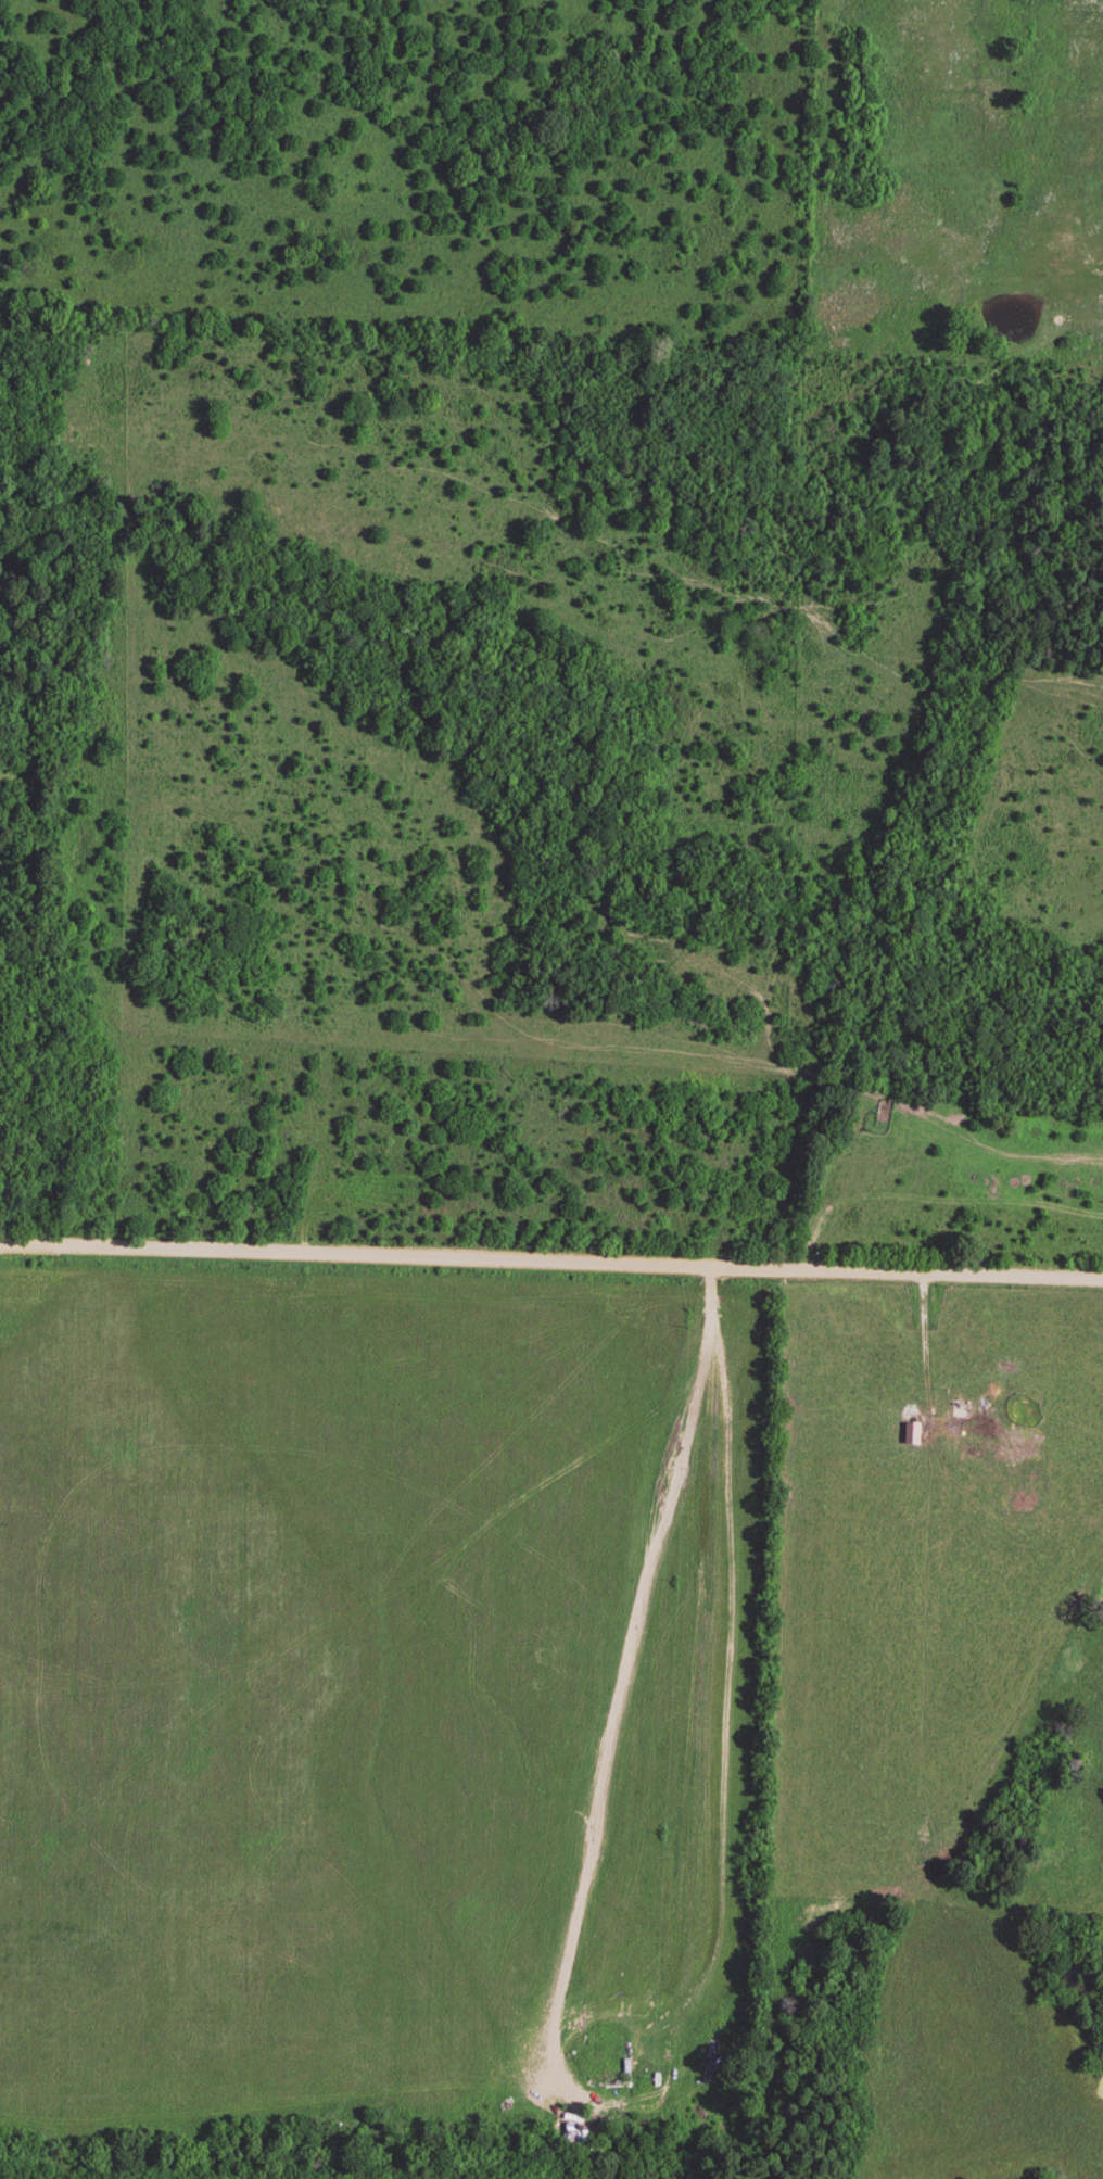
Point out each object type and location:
road: (551, 1265)
building: (605, 2083)
building: (599, 2127)

